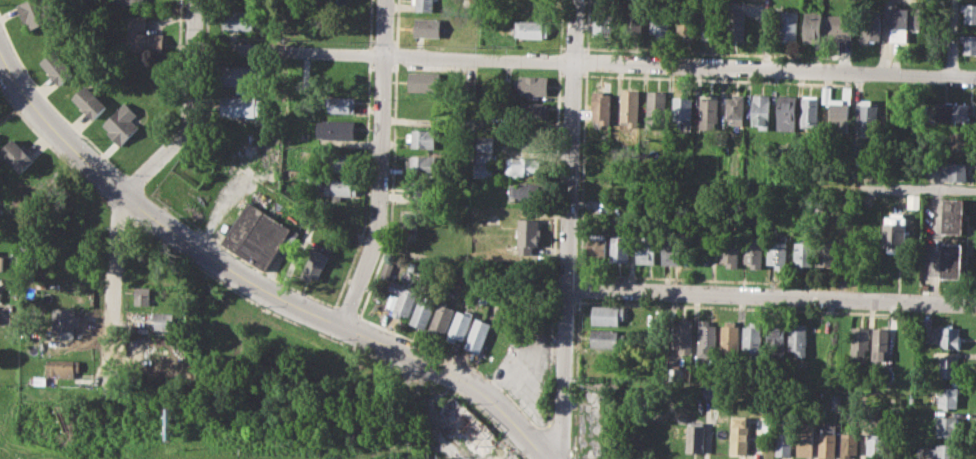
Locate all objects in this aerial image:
building: (133, 1)
building: (428, 6)
building: (535, 8)
building: (968, 12)
building: (34, 13)
building: (241, 19)
building: (633, 19)
building: (660, 19)
building: (603, 20)
building: (686, 21)
building: (903, 21)
building: (712, 22)
building: (737, 23)
building: (871, 24)
building: (789, 26)
building: (813, 26)
building: (839, 26)
building: (428, 27)
building: (531, 29)
building: (143, 36)
building: (968, 43)
road: (586, 61)
building: (58, 66)
building: (240, 75)
building: (425, 82)
building: (532, 84)
building: (89, 101)
building: (239, 104)
building: (341, 104)
building: (839, 104)
building: (601, 106)
building: (656, 106)
building: (631, 107)
building: (425, 108)
building: (735, 108)
building: (533, 110)
building: (762, 110)
building: (811, 110)
building: (683, 111)
building: (788, 111)
building: (953, 111)
building: (709, 112)
building: (871, 113)
building: (121, 123)
building: (335, 128)
building: (422, 138)
building: (958, 142)
building: (484, 143)
building: (17, 155)
building: (343, 162)
building: (423, 162)
building: (484, 164)
road: (380, 165)
building: (522, 165)
building: (949, 171)
building: (313, 178)
road: (131, 183)
building: (340, 187)
building: (528, 190)
building: (421, 193)
building: (913, 201)
building: (952, 216)
road: (935, 226)
road: (569, 229)
building: (308, 230)
building: (896, 232)
building: (258, 233)
building: (528, 234)
building: (597, 243)
building: (620, 246)
building: (647, 247)
building: (672, 248)
building: (804, 250)
building: (827, 250)
building: (730, 251)
building: (753, 251)
building: (779, 251)
building: (950, 260)
building: (315, 263)
building: (386, 269)
road: (253, 282)
building: (62, 288)
road: (772, 293)
building: (142, 295)
building: (1, 296)
building: (404, 299)
building: (391, 300)
building: (422, 312)
building: (608, 314)
building: (441, 316)
building: (66, 322)
building: (162, 322)
building: (460, 324)
building: (656, 329)
building: (938, 333)
building: (477, 334)
building: (684, 335)
building: (730, 336)
building: (607, 337)
building: (707, 338)
building: (752, 338)
building: (775, 338)
building: (798, 339)
building: (860, 340)
building: (880, 343)
building: (949, 365)
building: (57, 370)
building: (947, 396)
building: (837, 401)
building: (466, 426)
building: (947, 426)
building: (739, 435)
building: (783, 435)
building: (696, 437)
building: (827, 439)
building: (805, 440)
building: (849, 443)
building: (875, 443)
building: (945, 451)

